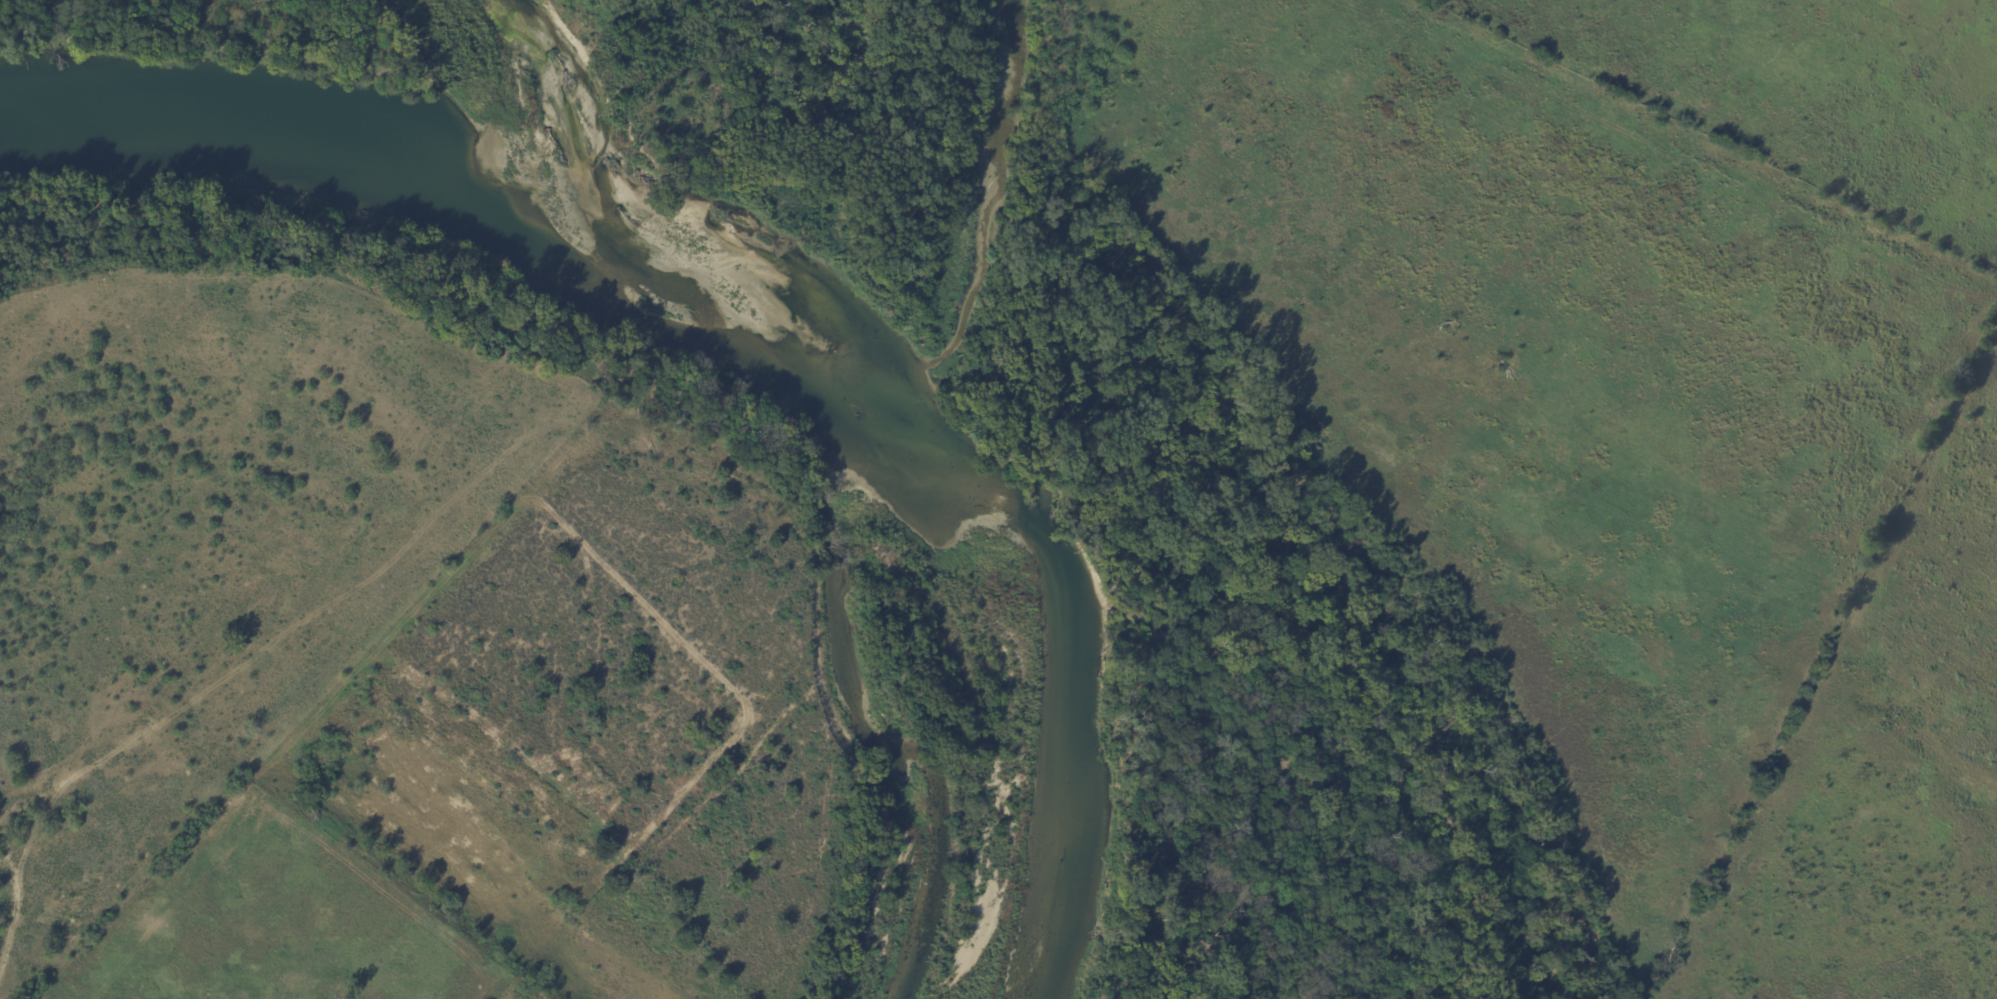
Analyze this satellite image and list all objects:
park: (524, 57)
river: (786, 304)
park: (1466, 474)
quarry: (528, 993)

